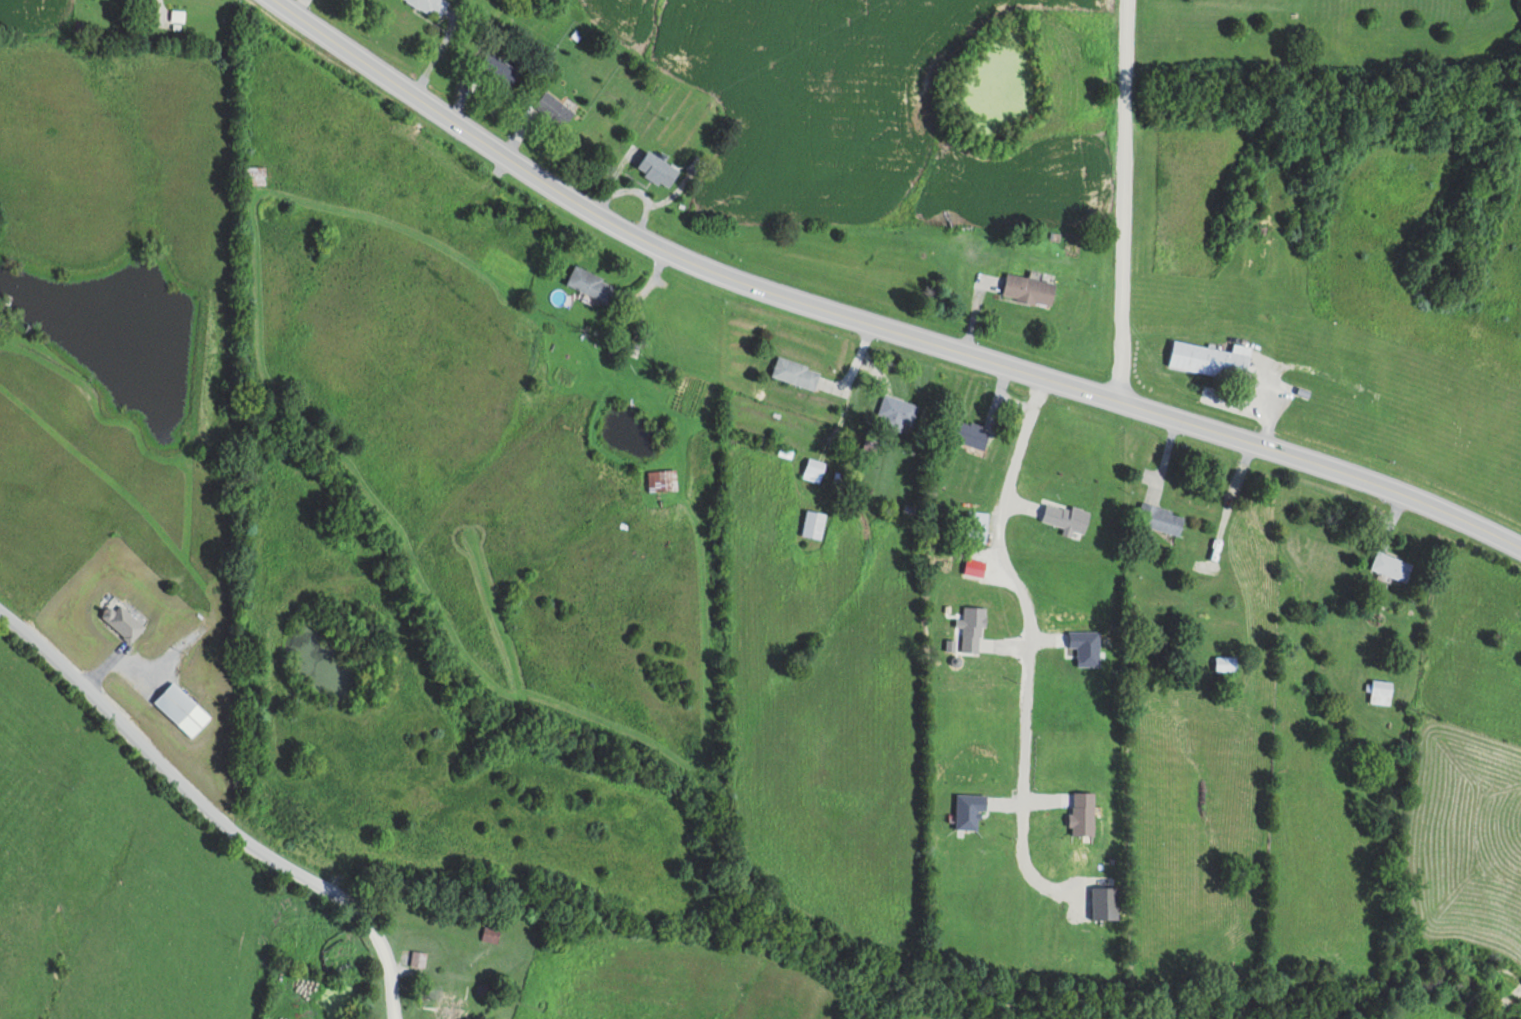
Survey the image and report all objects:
building: (431, 6)
building: (178, 15)
building: (498, 69)
building: (555, 109)
building: (657, 169)
building: (256, 175)
road: (1120, 200)
building: (591, 283)
building: (1029, 290)
road: (875, 323)
building: (1212, 359)
building: (795, 373)
building: (894, 410)
building: (970, 433)
building: (663, 480)
building: (1161, 517)
building: (814, 524)
building: (977, 525)
building: (1392, 565)
road: (1015, 584)
building: (123, 619)
building: (1226, 662)
building: (1382, 691)
building: (183, 708)
road: (200, 834)
building: (490, 934)
building: (314, 940)
building: (414, 955)
building: (452, 1006)

